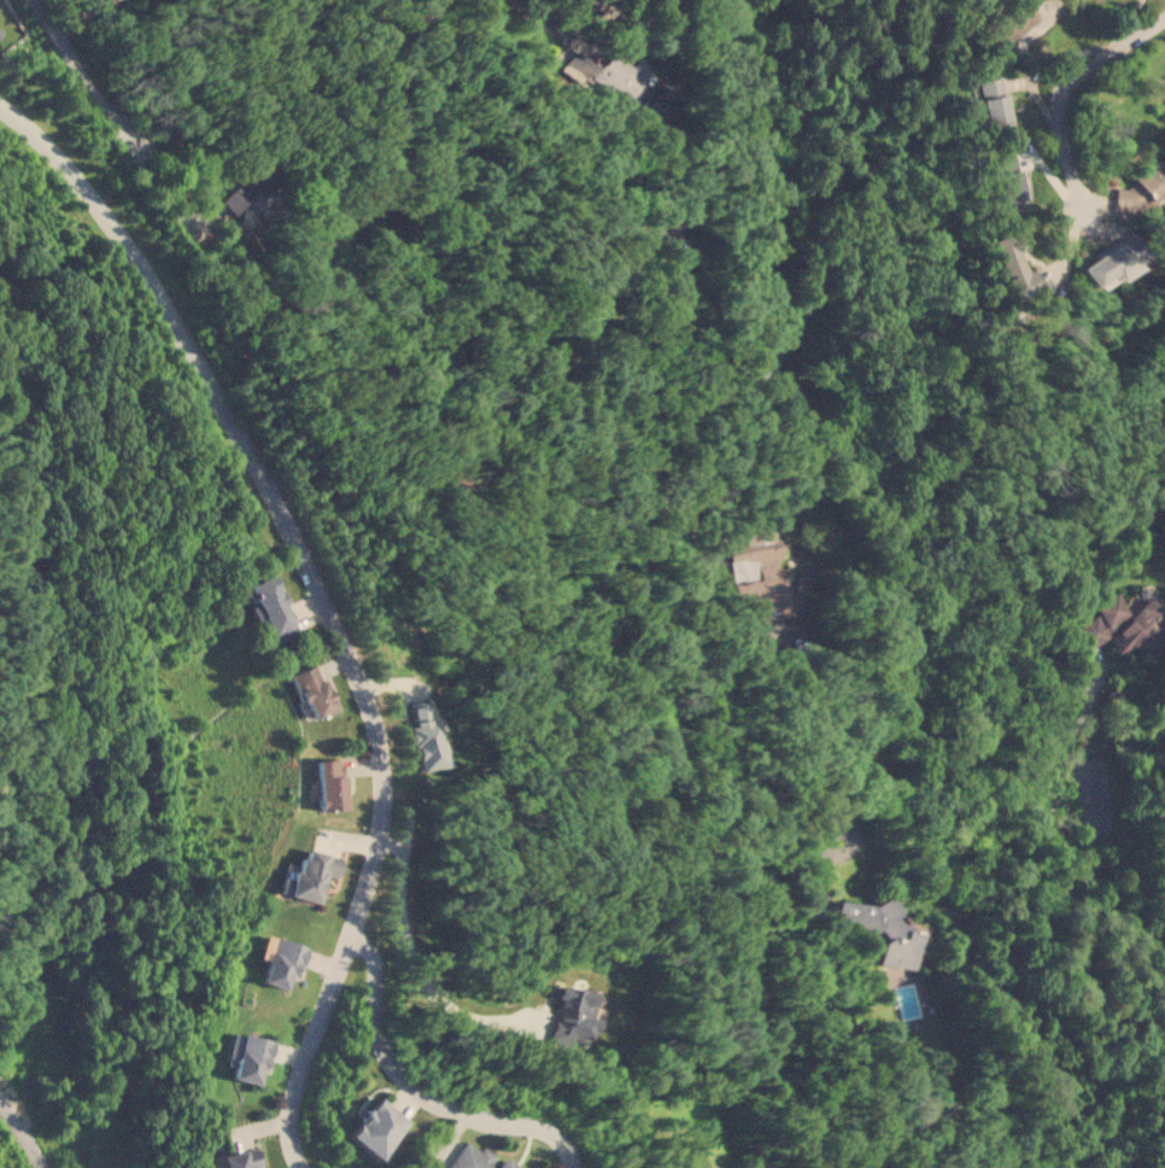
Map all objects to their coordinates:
building: (1014, 21)
building: (603, 72)
road: (83, 76)
road: (1061, 88)
building: (651, 97)
building: (993, 101)
road: (744, 132)
building: (1006, 177)
building: (1143, 187)
building: (238, 194)
building: (672, 241)
building: (1014, 263)
building: (1107, 264)
road: (825, 508)
building: (759, 579)
road: (322, 597)
building: (271, 607)
building: (1123, 624)
building: (312, 691)
building: (425, 735)
road: (844, 773)
building: (329, 783)
building: (310, 874)
road: (1066, 874)
building: (897, 945)
building: (281, 960)
road: (408, 968)
building: (575, 1014)
building: (250, 1057)
road: (416, 1092)
building: (376, 1127)
road: (23, 1133)
building: (240, 1158)
building: (476, 1158)

